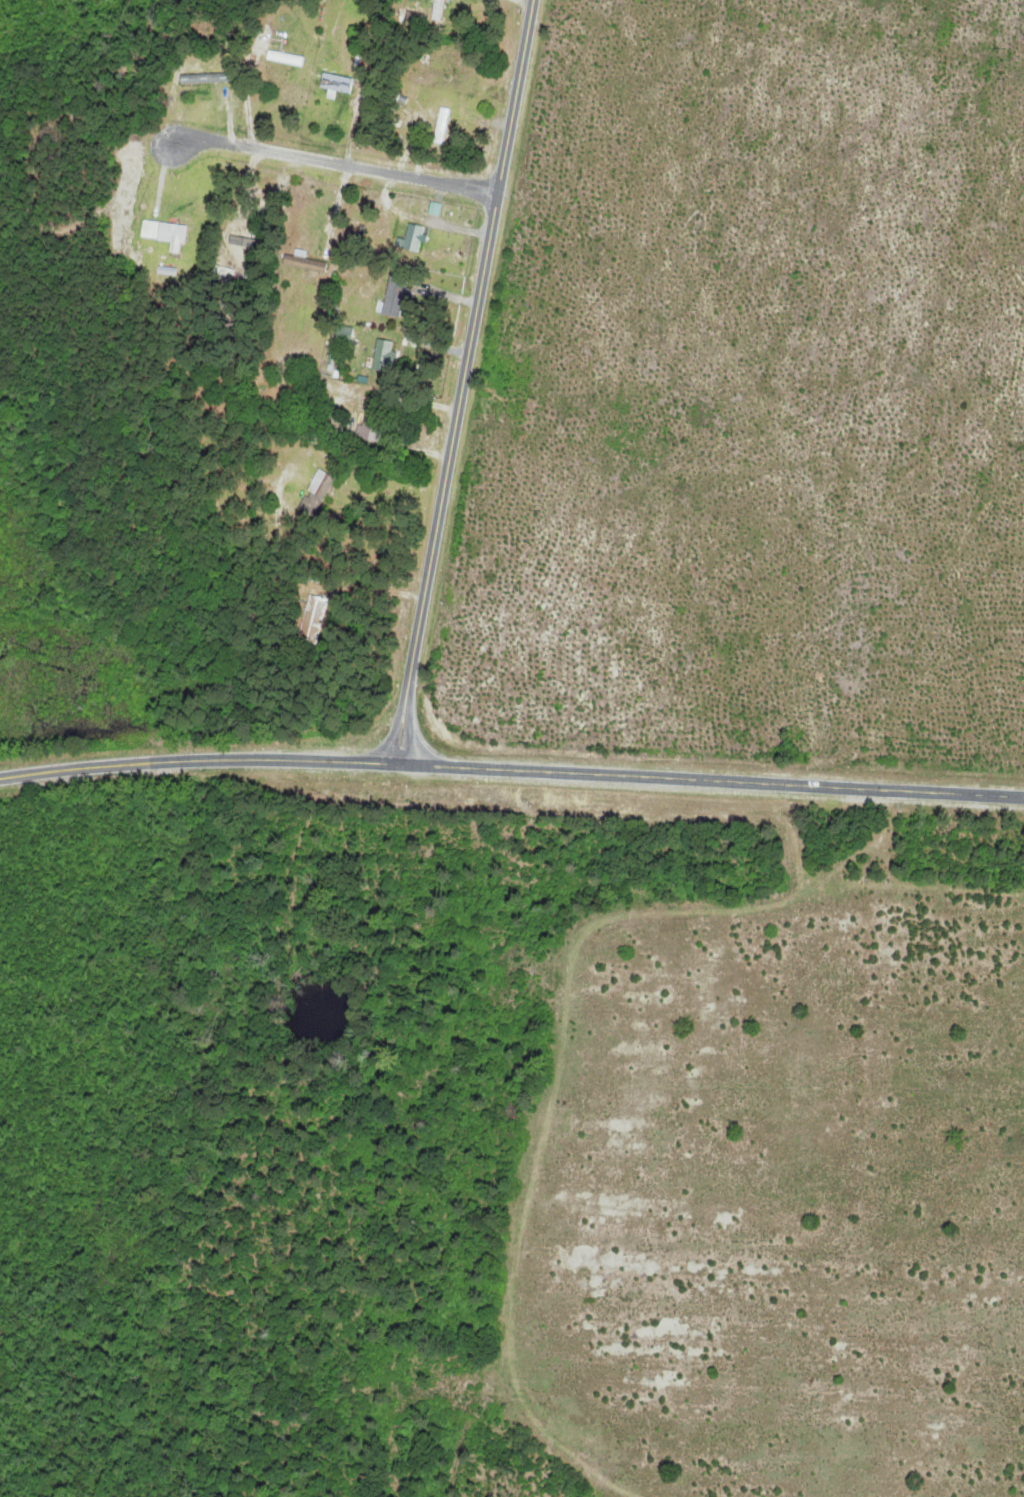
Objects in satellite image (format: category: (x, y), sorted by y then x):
building: (439, 10)
building: (284, 58)
building: (456, 62)
building: (203, 78)
building: (336, 83)
building: (442, 126)
road: (331, 163)
building: (162, 231)
building: (414, 237)
building: (302, 261)
building: (395, 294)
building: (383, 355)
road: (462, 381)
building: (371, 425)
building: (316, 490)
building: (311, 620)
road: (511, 769)

